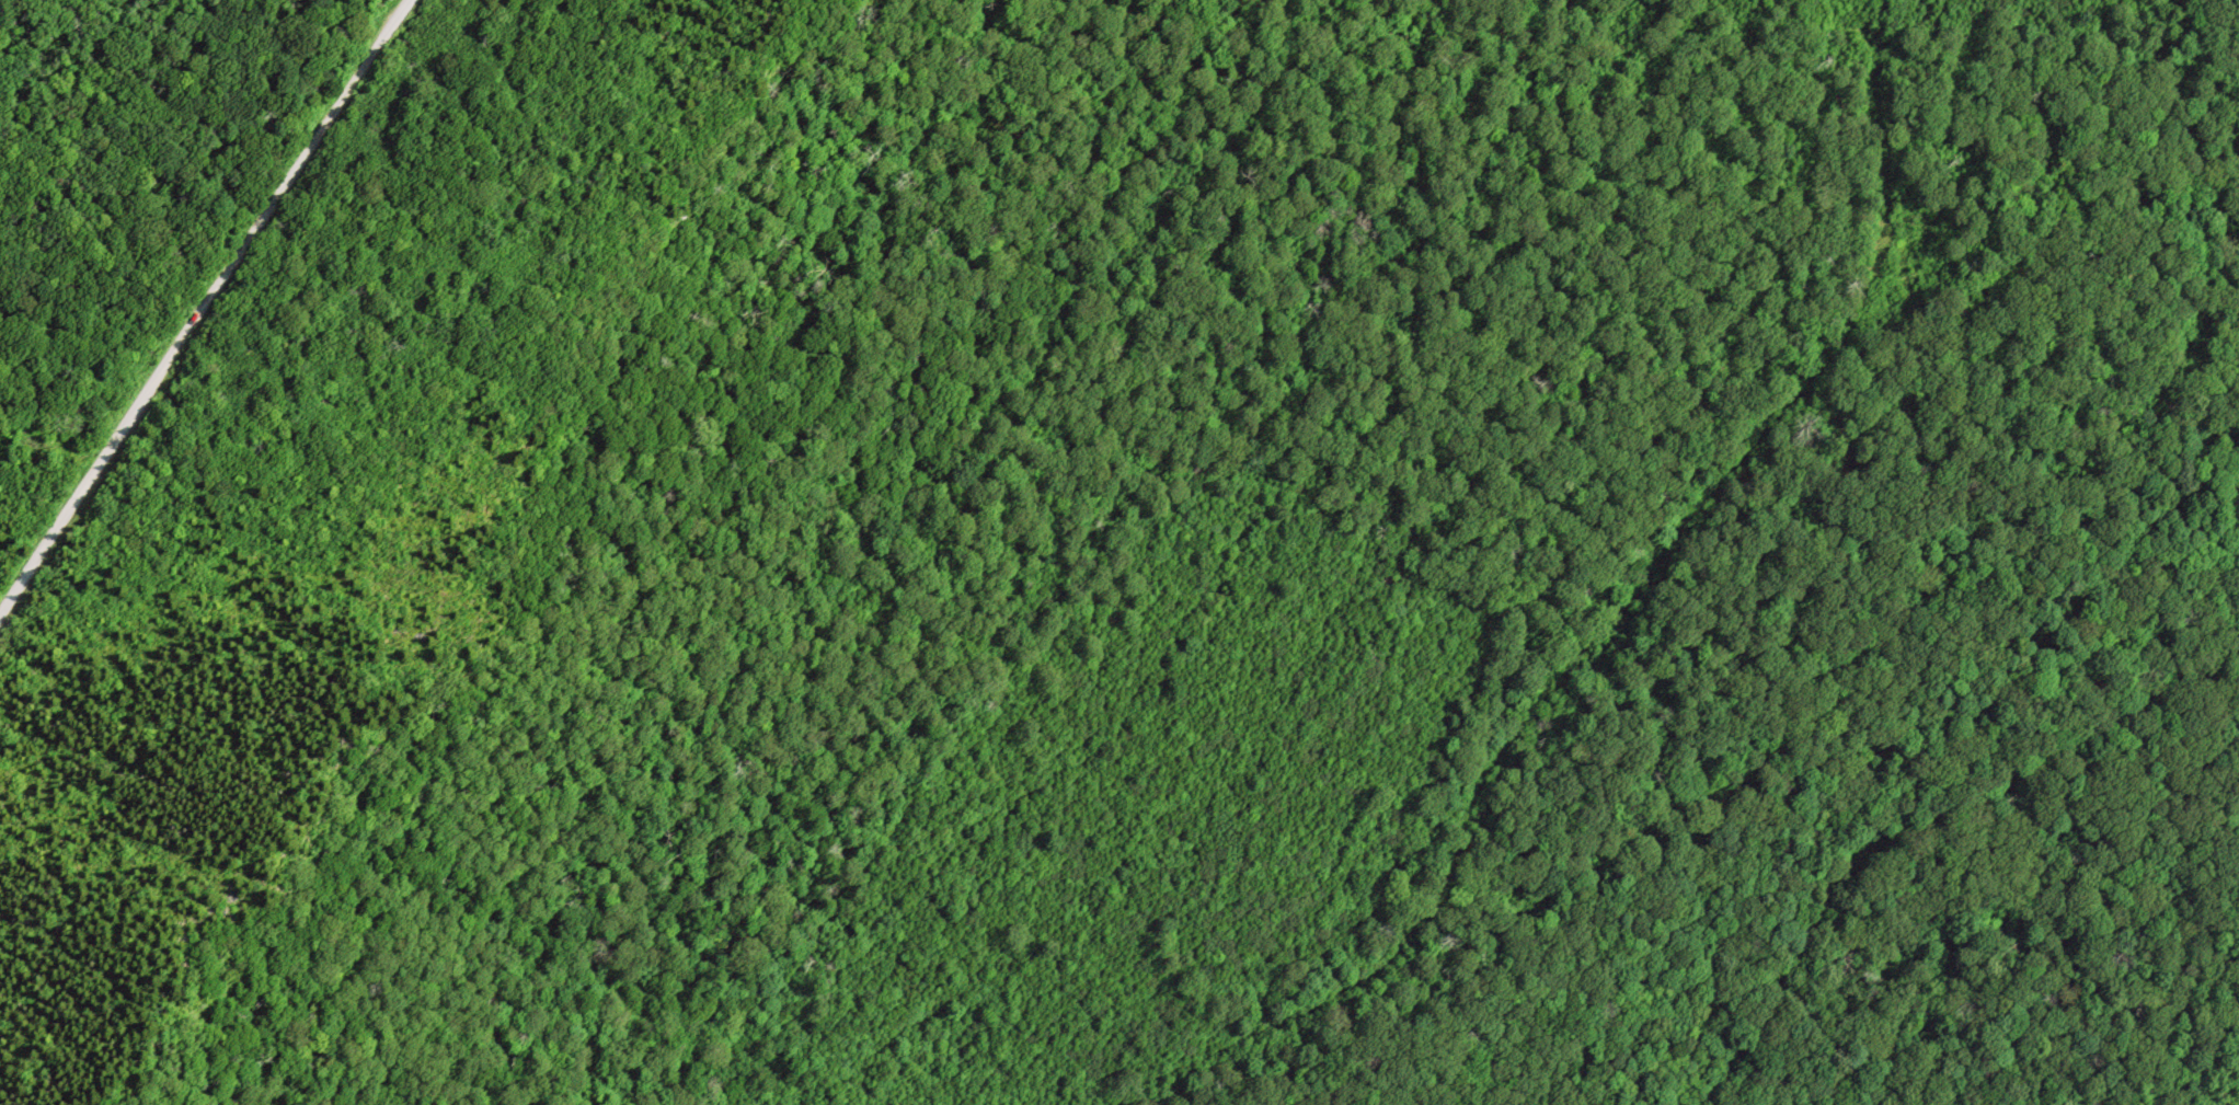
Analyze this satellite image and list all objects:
road: (205, 308)

